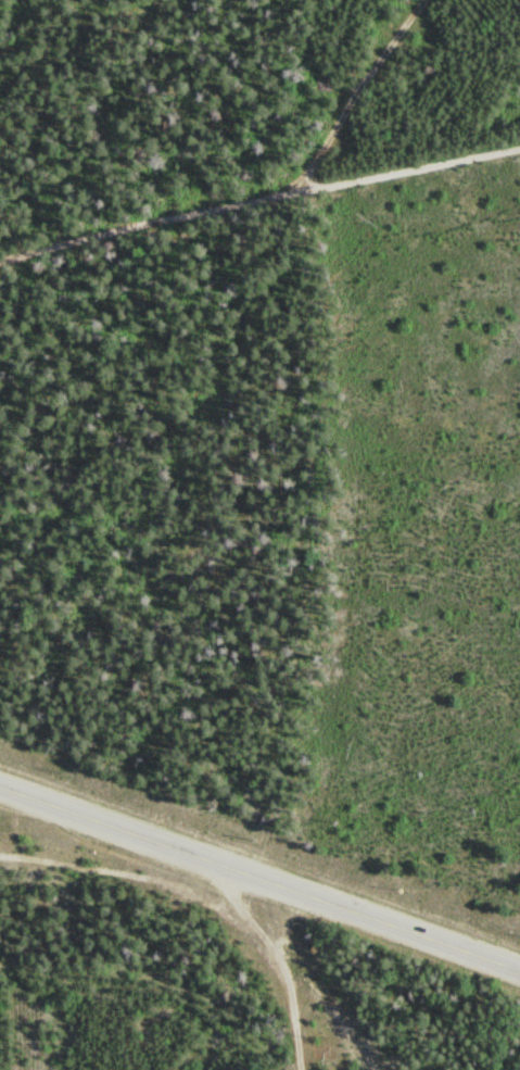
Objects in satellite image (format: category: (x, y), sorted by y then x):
road: (367, 97)
road: (259, 203)
road: (259, 878)
road: (283, 960)
road: (317, 985)

